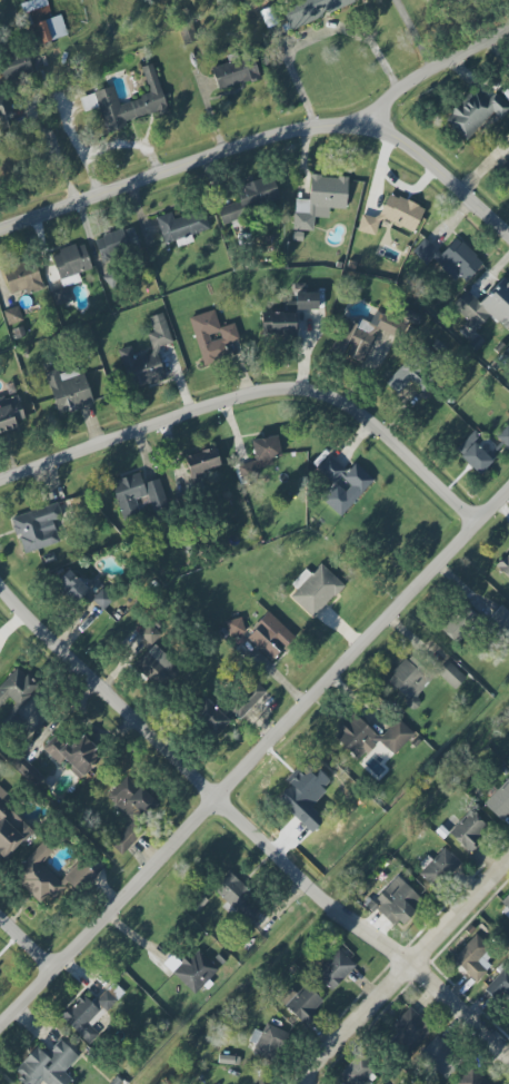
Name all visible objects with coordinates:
building: (311, 10)
building: (42, 21)
road: (315, 32)
road: (416, 37)
building: (16, 69)
building: (234, 72)
building: (127, 102)
building: (4, 112)
building: (475, 112)
road: (259, 142)
road: (57, 159)
building: (506, 166)
road: (442, 174)
building: (249, 199)
building: (319, 200)
building: (392, 215)
building: (180, 227)
building: (116, 244)
building: (450, 258)
building: (68, 270)
building: (22, 278)
building: (306, 300)
building: (485, 306)
building: (12, 315)
building: (279, 324)
building: (211, 336)
building: (359, 337)
building: (508, 348)
building: (147, 356)
building: (407, 378)
building: (68, 387)
road: (257, 394)
building: (10, 414)
building: (503, 435)
building: (475, 454)
building: (260, 456)
building: (202, 461)
building: (342, 484)
building: (137, 494)
building: (37, 528)
building: (503, 564)
building: (71, 587)
building: (315, 590)
building: (102, 599)
building: (500, 619)
building: (459, 623)
building: (149, 634)
building: (270, 635)
building: (157, 667)
building: (450, 674)
building: (407, 682)
building: (16, 688)
building: (246, 698)
building: (209, 717)
building: (370, 737)
building: (74, 755)
building: (508, 756)
road: (255, 762)
building: (27, 770)
building: (498, 799)
building: (130, 800)
road: (247, 826)
building: (10, 829)
building: (468, 830)
building: (123, 840)
building: (438, 866)
building: (38, 875)
building: (79, 877)
building: (238, 897)
building: (397, 901)
building: (506, 905)
road: (27, 943)
building: (473, 958)
building: (333, 969)
road: (406, 969)
building: (194, 970)
building: (501, 986)
building: (301, 1003)
building: (91, 1013)
building: (410, 1028)
building: (267, 1041)
building: (440, 1057)
building: (47, 1065)
building: (358, 1072)
building: (471, 1077)

